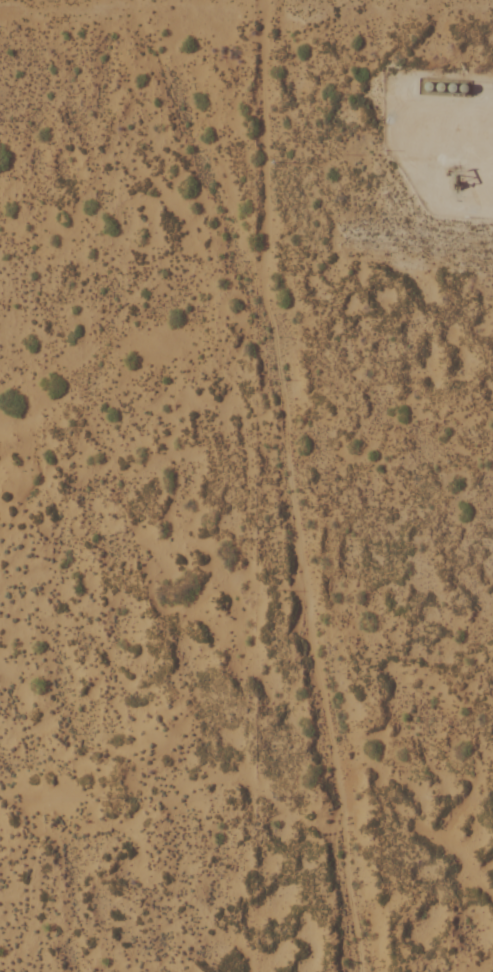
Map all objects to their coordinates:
road: (448, 123)

